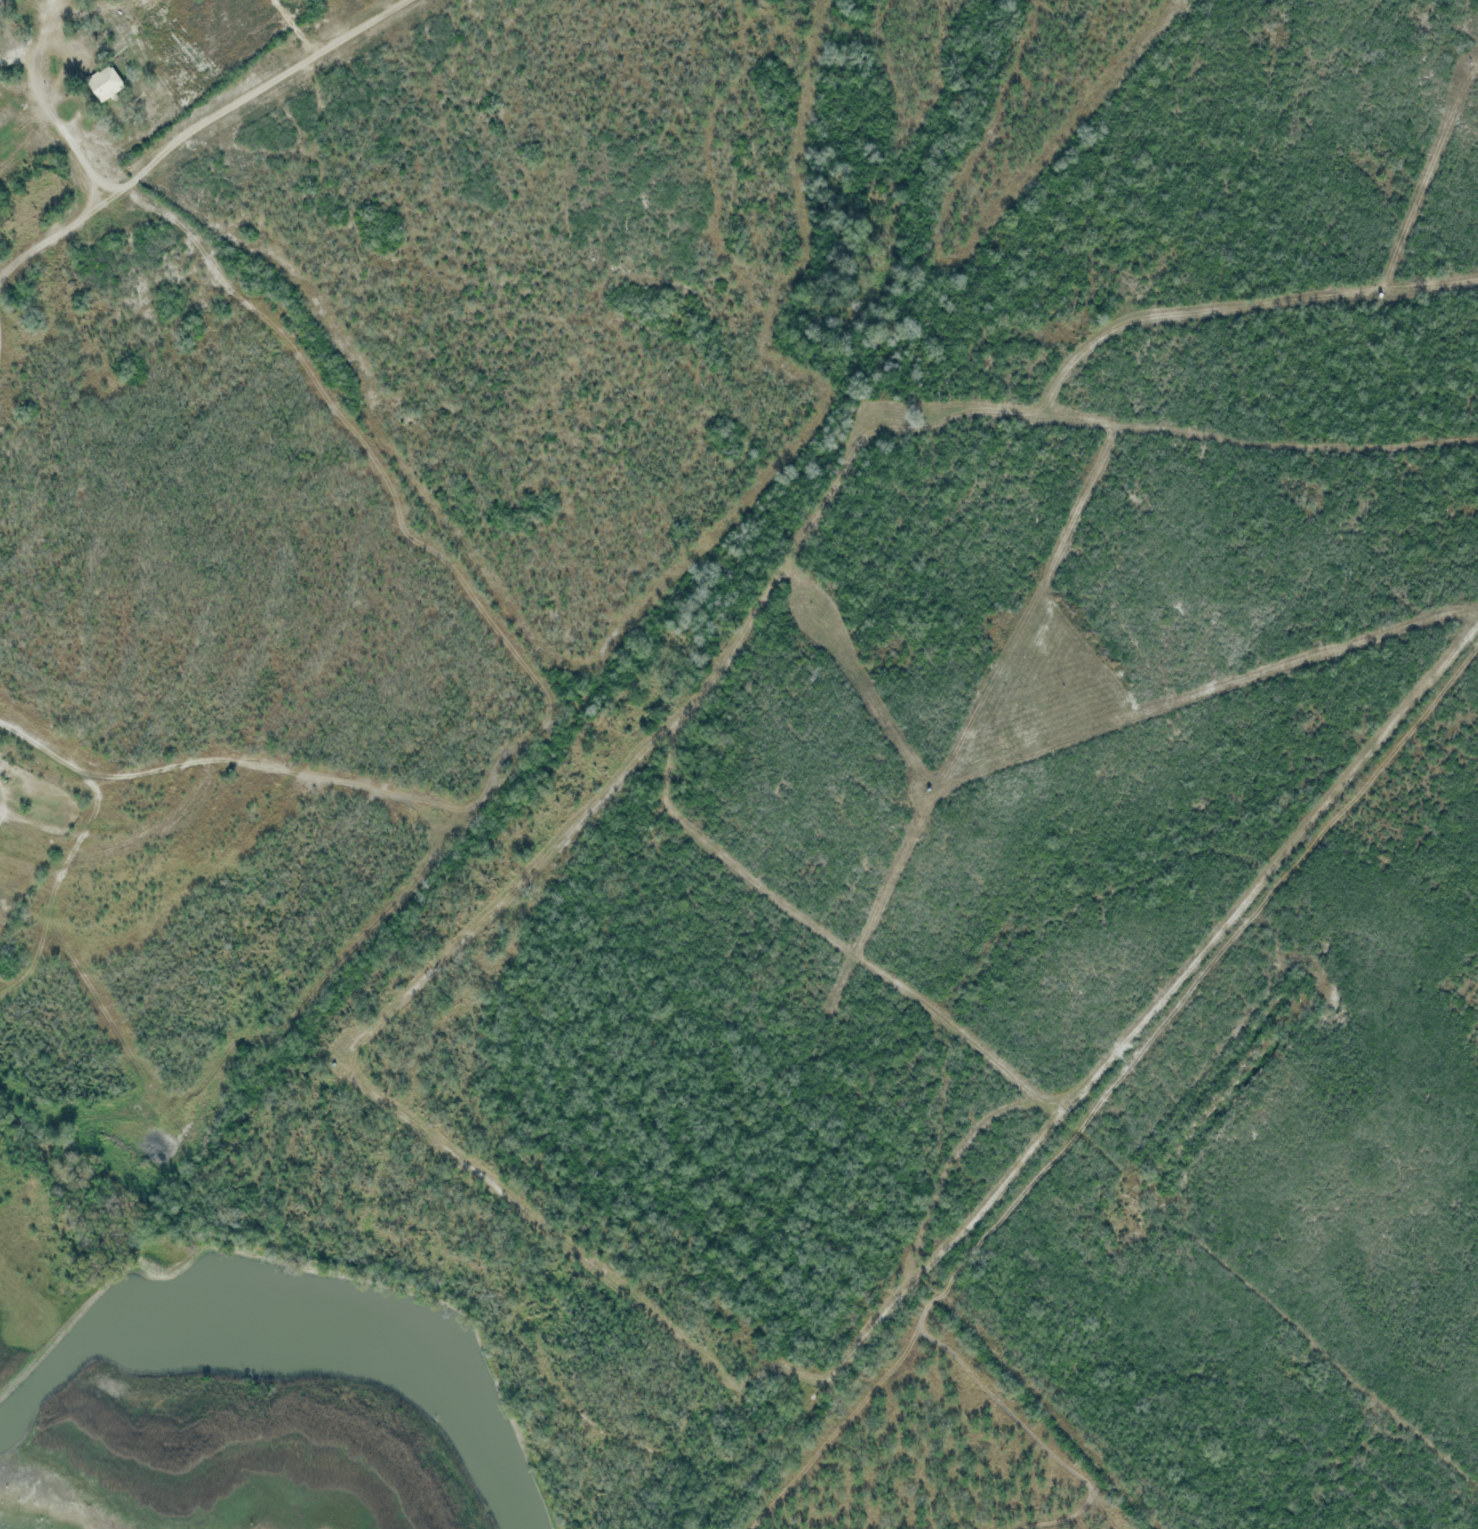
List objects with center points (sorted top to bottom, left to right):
building: (103, 82)
road: (209, 126)
building: (50, 191)
road: (1285, 869)

